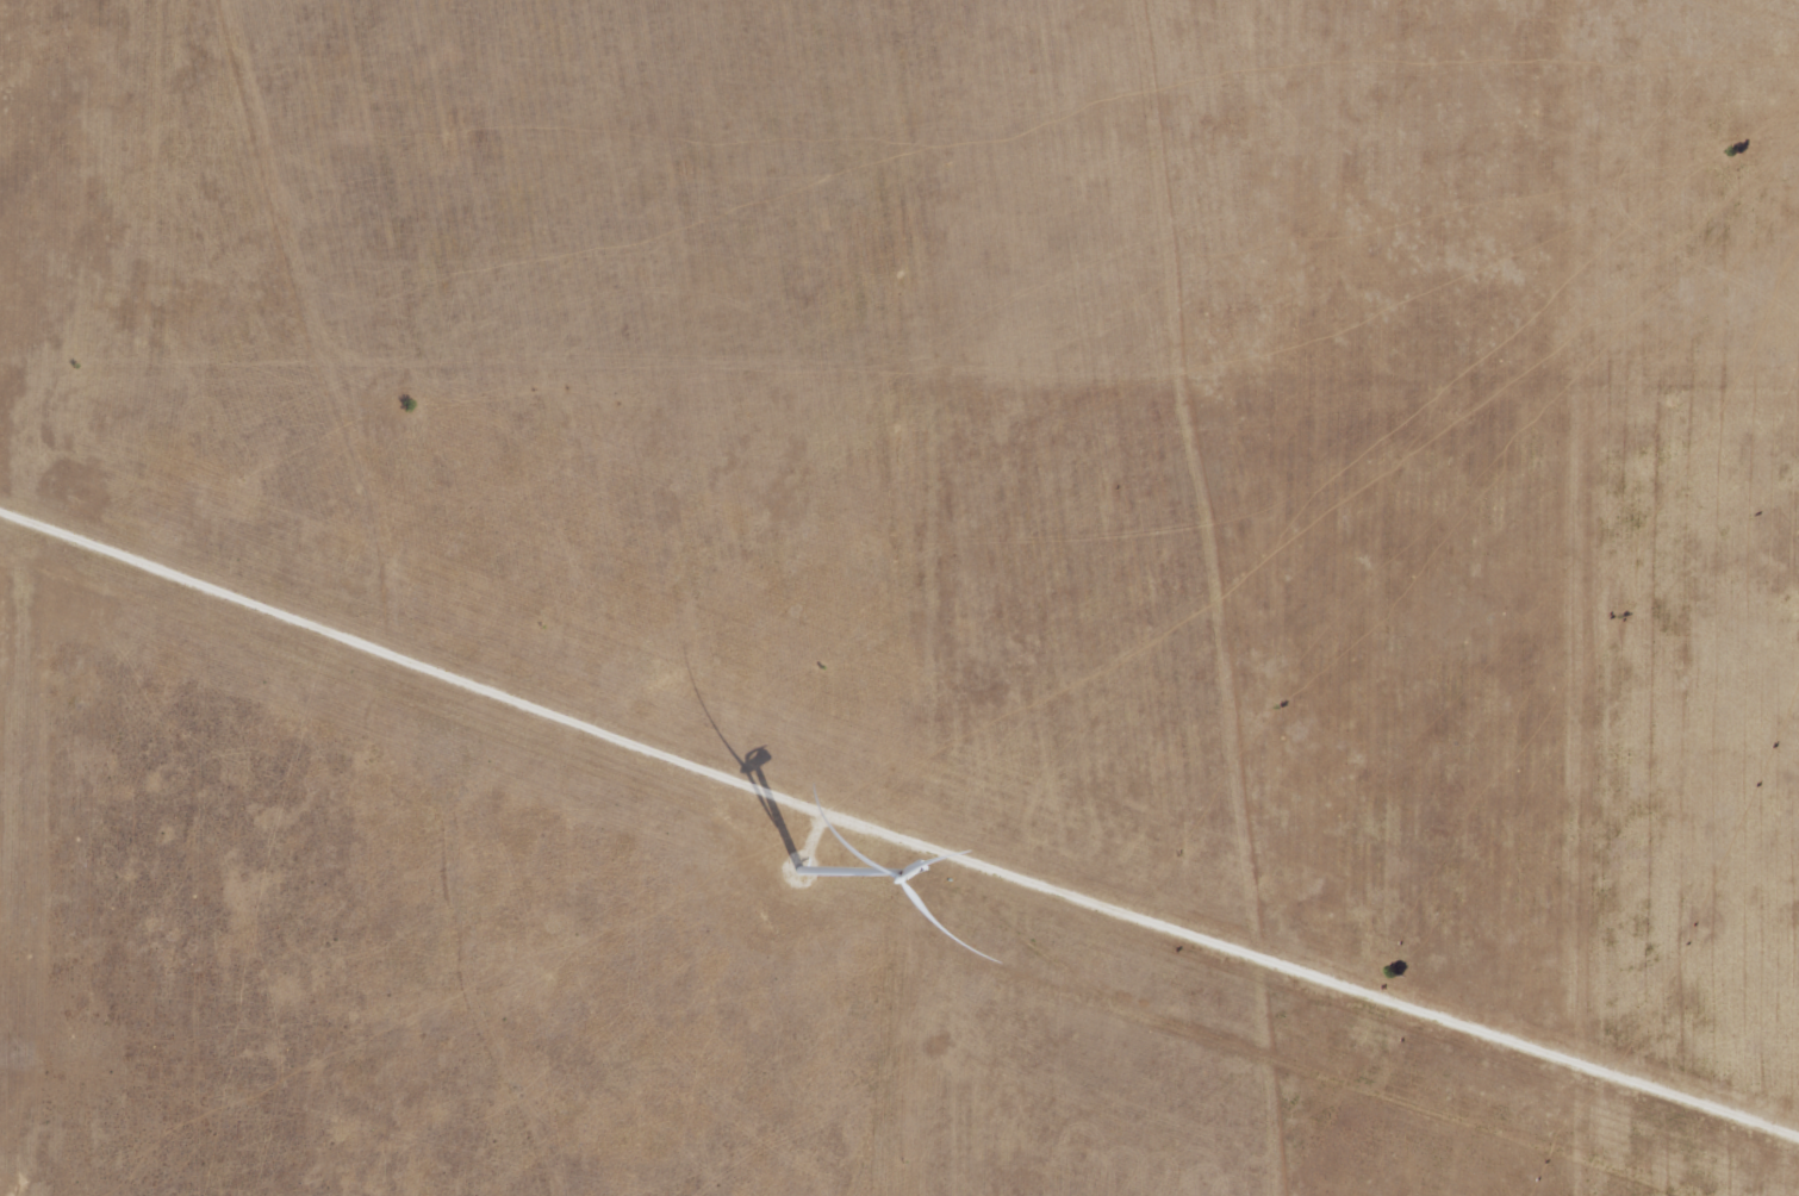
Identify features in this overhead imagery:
wind turbine: (797, 877)

